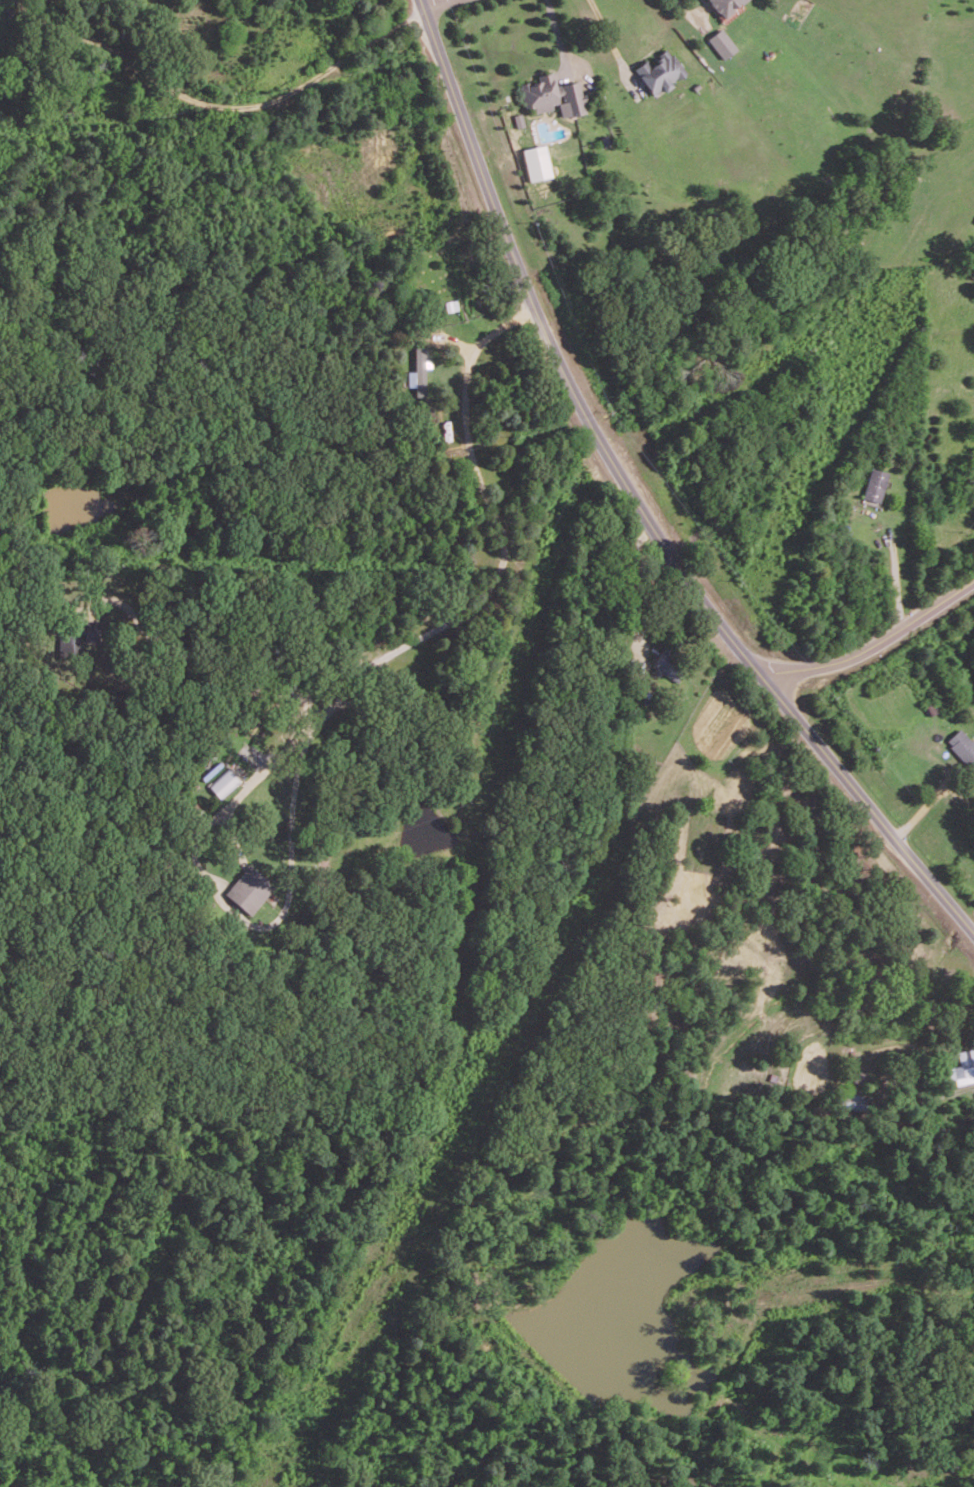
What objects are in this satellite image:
building: (726, 5)
road: (441, 6)
road: (686, 11)
road: (556, 32)
building: (723, 43)
road: (611, 46)
building: (660, 71)
building: (553, 95)
road: (222, 104)
building: (536, 162)
road: (559, 362)
building: (417, 372)
building: (875, 484)
road: (896, 577)
road: (435, 628)
building: (75, 637)
road: (879, 642)
building: (669, 664)
building: (962, 746)
building: (223, 782)
road: (872, 810)
building: (250, 889)
road: (251, 923)
building: (963, 1067)

